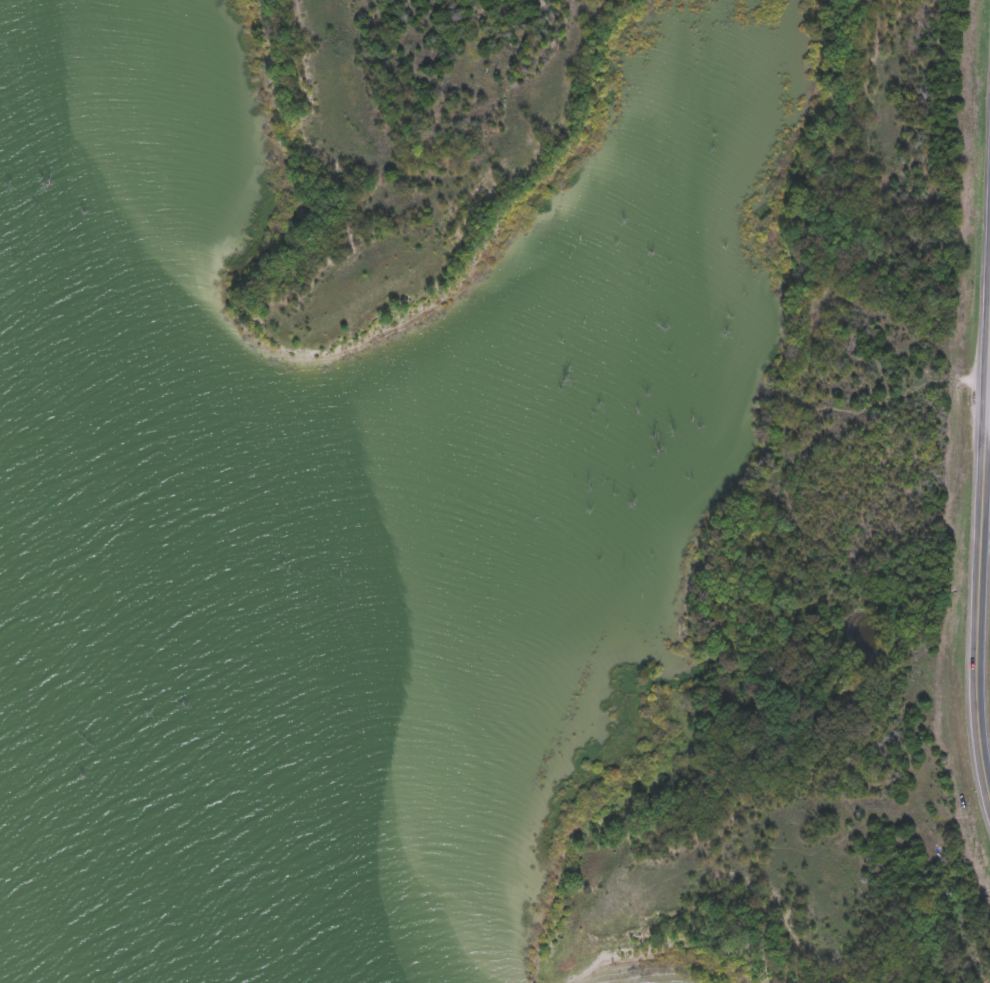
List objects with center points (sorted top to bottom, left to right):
road: (987, 431)
road: (978, 560)

